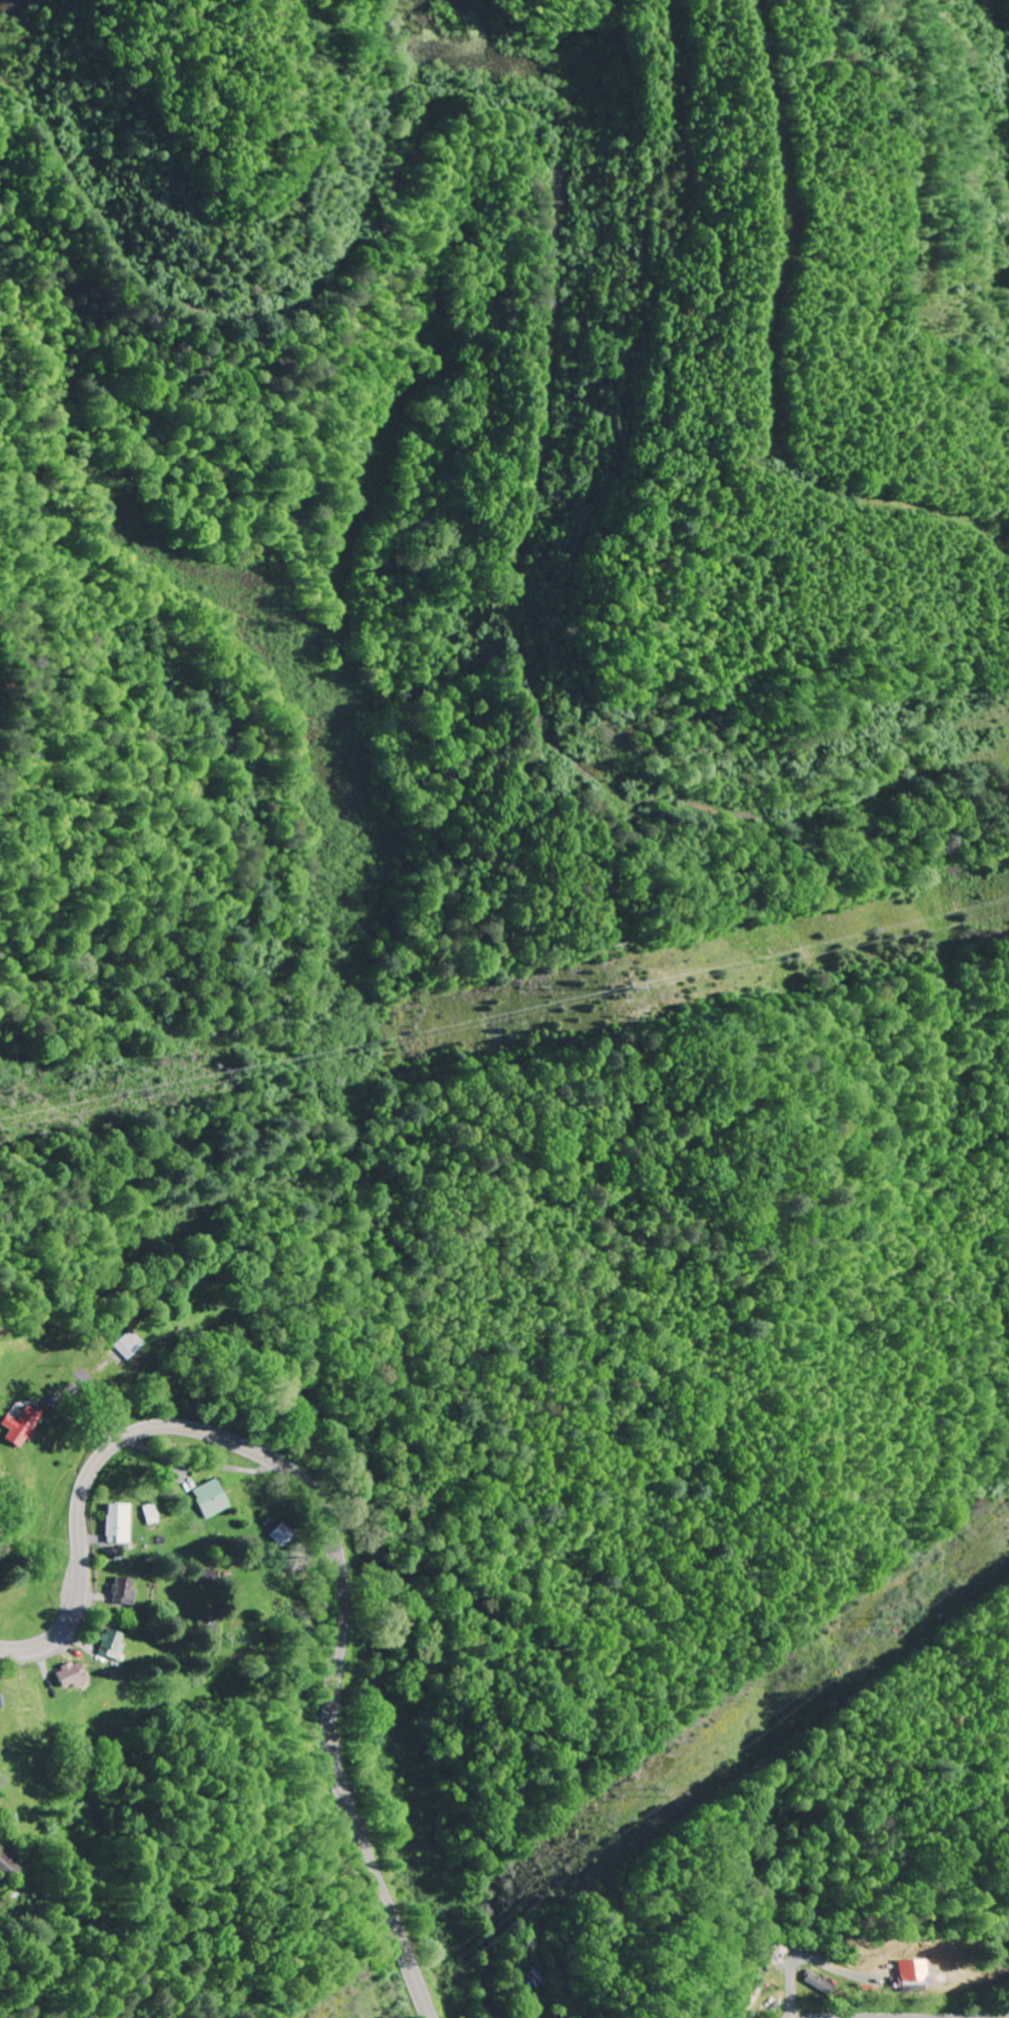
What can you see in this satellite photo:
road: (1003, 40)
road: (530, 695)
power tower: (628, 989)
building: (127, 1343)
building: (19, 1425)
road: (326, 1518)
building: (117, 1522)
building: (280, 1532)
building: (122, 1590)
building: (205, 1624)
power tower: (898, 1627)
road: (698, 1631)
building: (111, 1642)
building: (69, 1673)
building: (7, 1864)
building: (779, 1946)
building: (912, 1974)
building: (816, 1980)
road: (1001, 2017)

